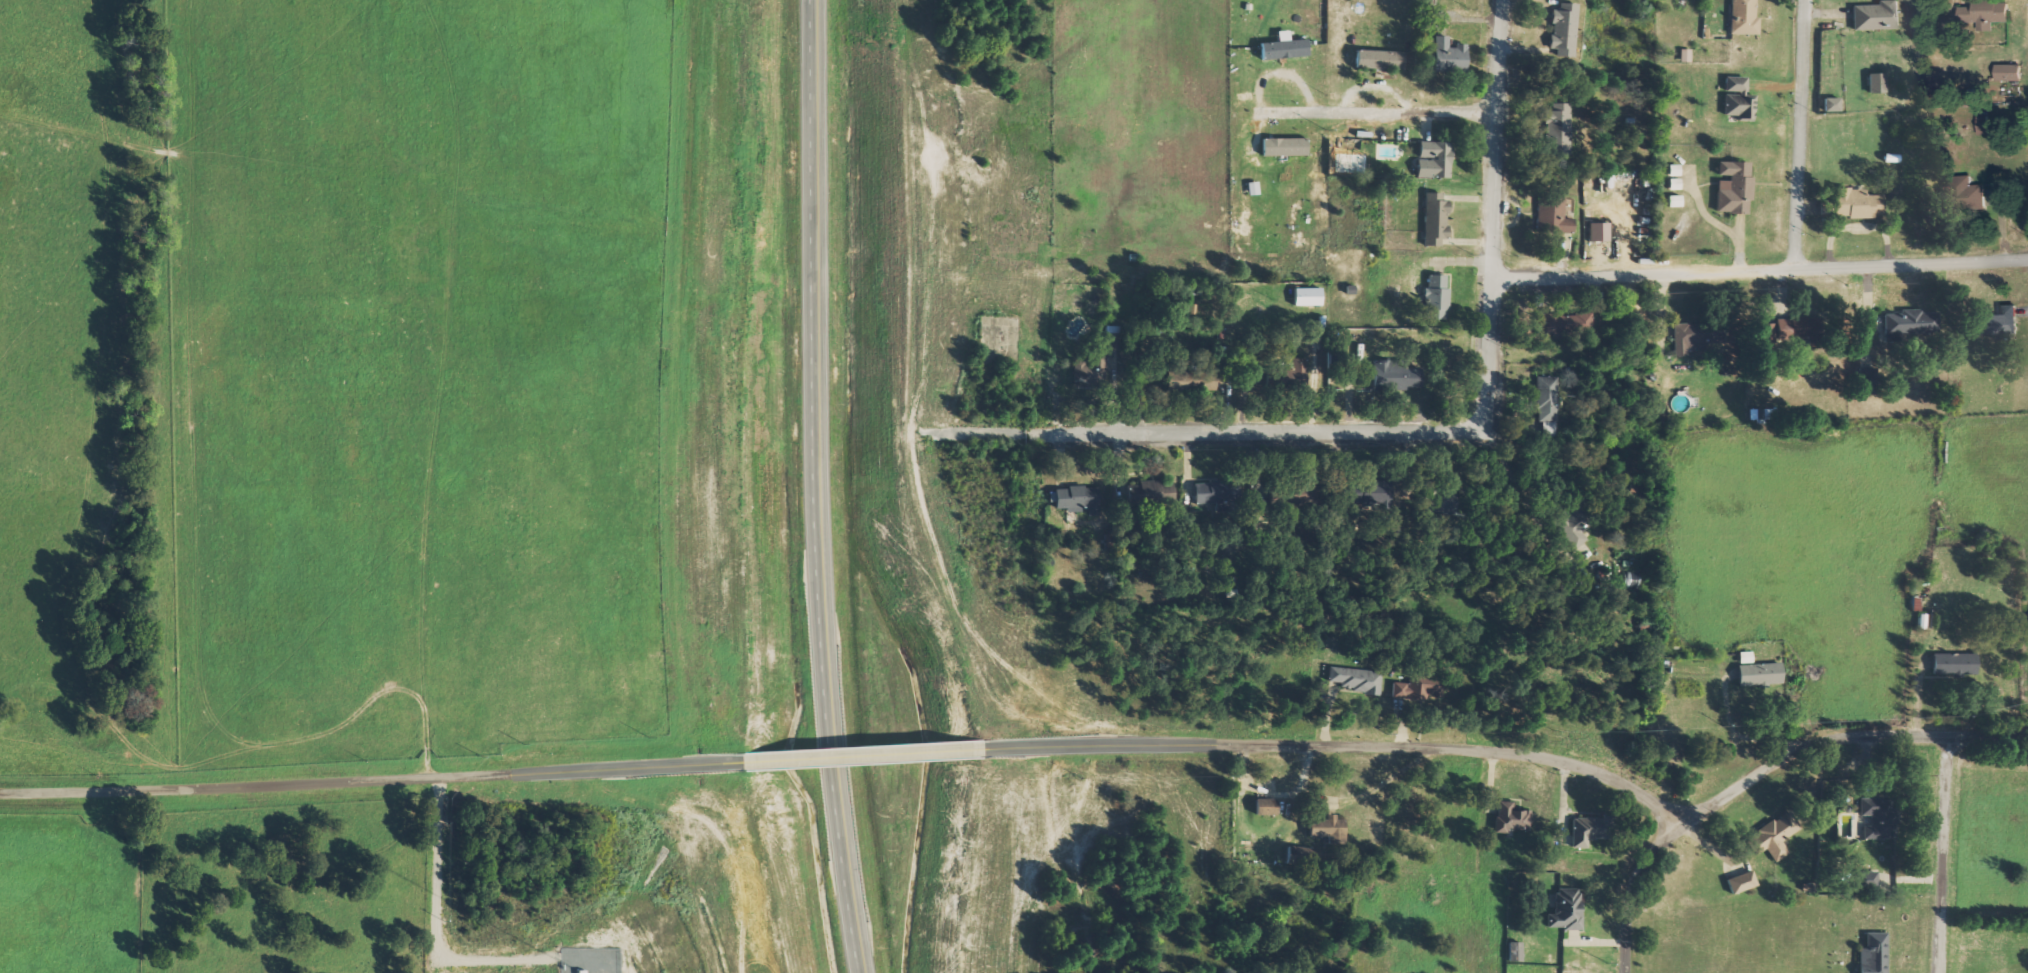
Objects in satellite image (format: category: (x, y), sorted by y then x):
building: (1990, 14)
building: (1965, 15)
building: (1876, 16)
building: (1742, 18)
building: (1562, 31)
building: (1283, 48)
building: (1684, 55)
building: (1447, 56)
building: (1378, 60)
building: (2008, 72)
building: (1875, 84)
building: (1737, 99)
building: (1831, 105)
road: (1381, 112)
building: (1982, 126)
building: (1557, 130)
road: (1805, 134)
building: (1283, 147)
building: (1433, 160)
building: (1733, 188)
building: (1966, 195)
building: (1856, 204)
building: (1556, 215)
road: (1495, 216)
building: (1434, 219)
building: (1597, 232)
road: (1761, 271)
building: (1306, 297)
building: (1435, 298)
road: (818, 305)
building: (1567, 323)
building: (1999, 323)
building: (1910, 324)
building: (1784, 332)
building: (1695, 336)
building: (1112, 338)
building: (1295, 371)
building: (1089, 373)
building: (1395, 376)
building: (1189, 381)
building: (1866, 381)
building: (1546, 403)
road: (1205, 433)
building: (1208, 492)
building: (1152, 493)
building: (1377, 493)
building: (1075, 499)
building: (1570, 528)
building: (1744, 658)
building: (1953, 664)
building: (1757, 675)
building: (1354, 680)
building: (1415, 685)
road: (1348, 745)
road: (866, 758)
road: (1772, 770)
road: (373, 781)
road: (837, 792)
building: (1264, 807)
building: (1875, 817)
building: (1509, 818)
building: (1327, 829)
building: (1585, 831)
building: (1771, 837)
road: (1944, 852)
building: (1865, 881)
building: (1740, 882)
building: (1565, 910)
building: (1513, 952)
building: (1872, 954)

